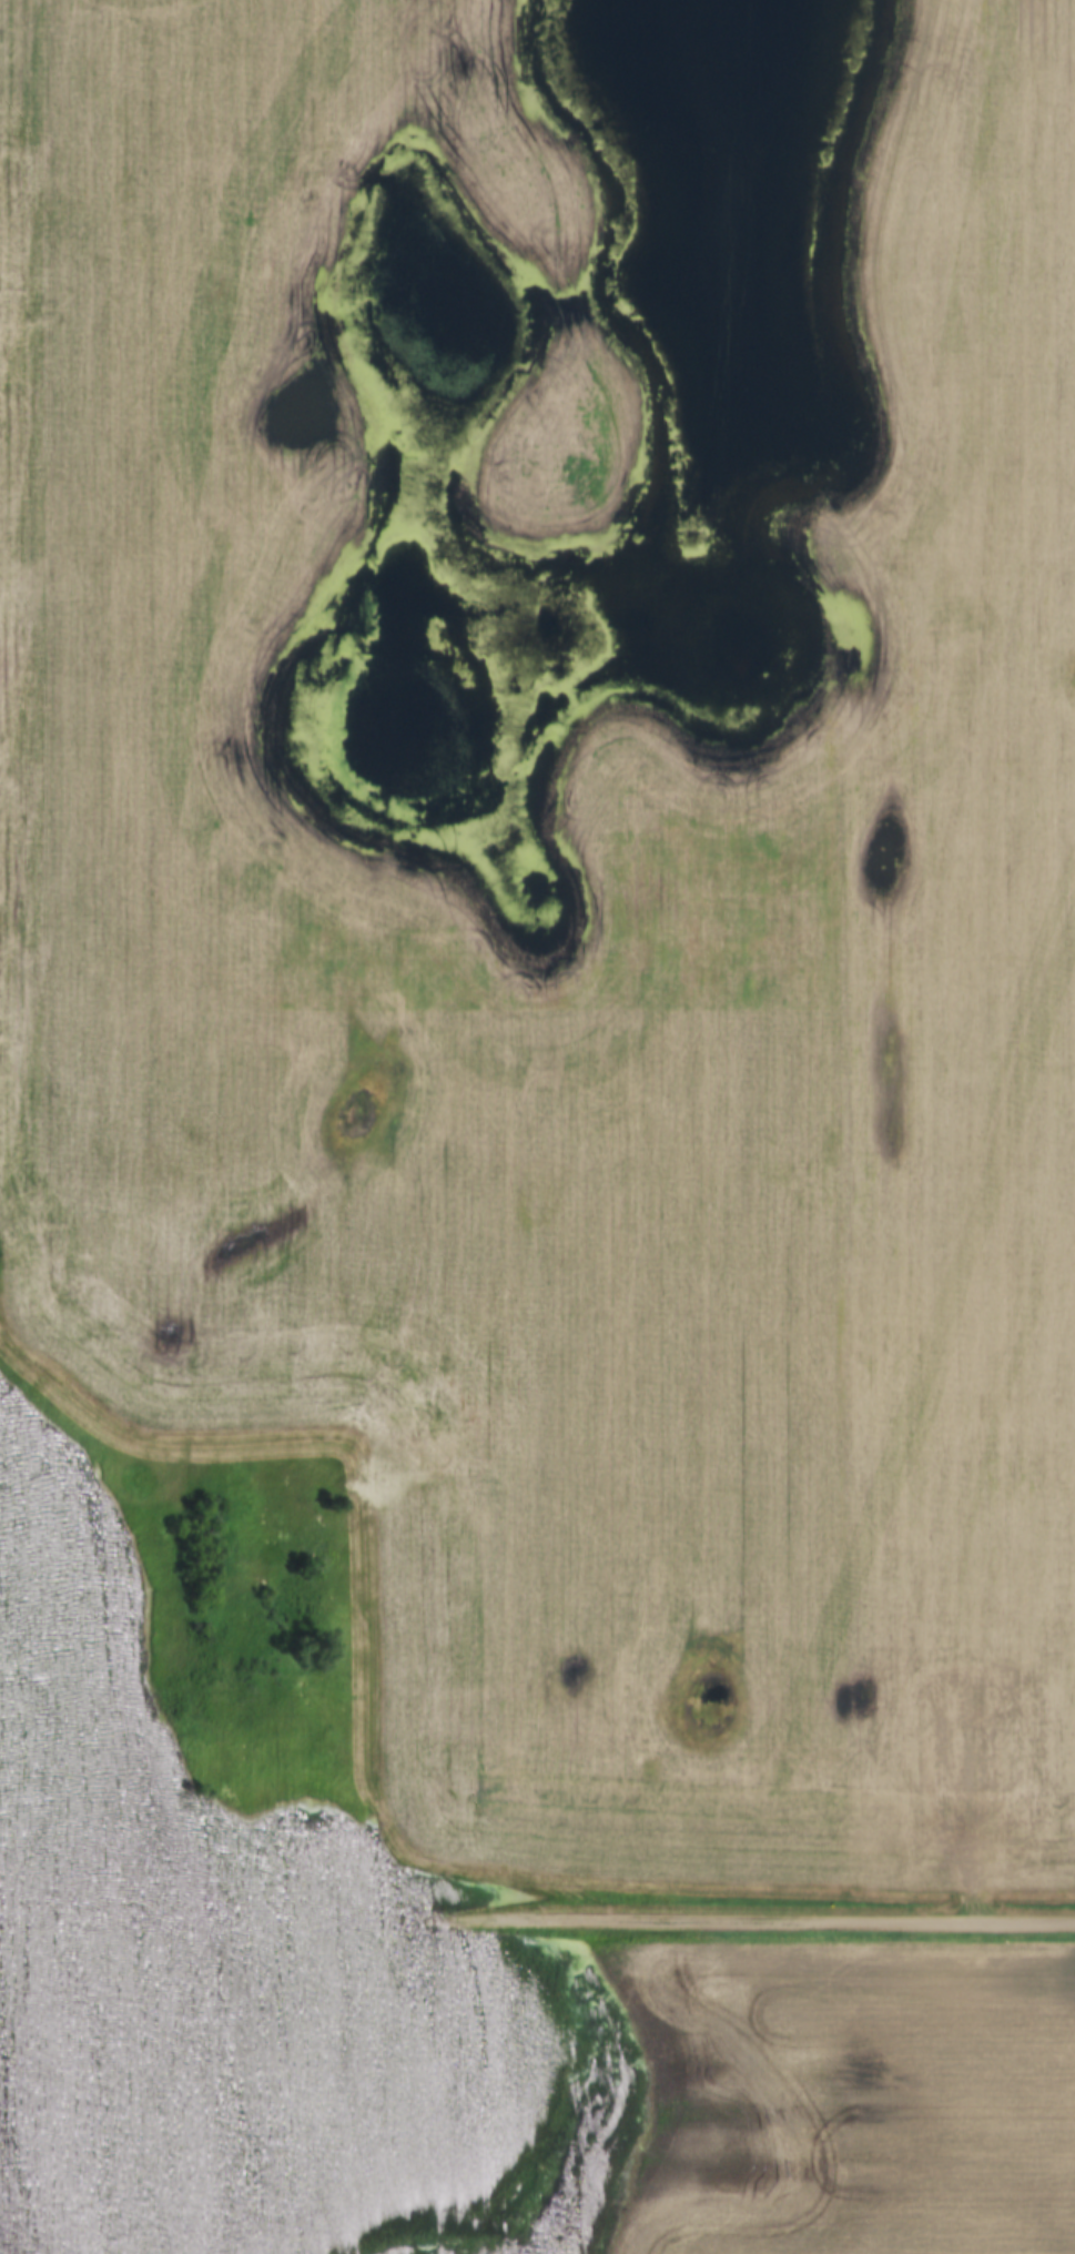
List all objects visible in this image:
road: (537, 1921)

